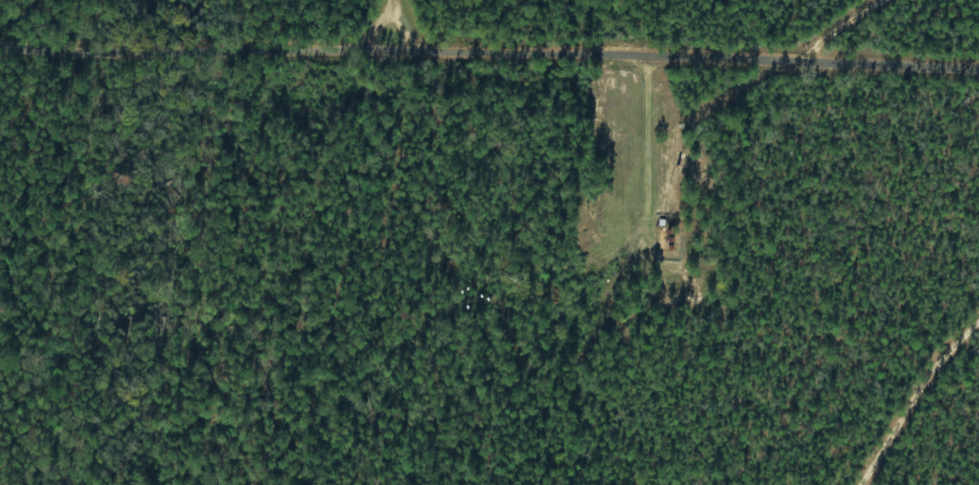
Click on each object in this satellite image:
road: (341, 20)
road: (489, 47)

